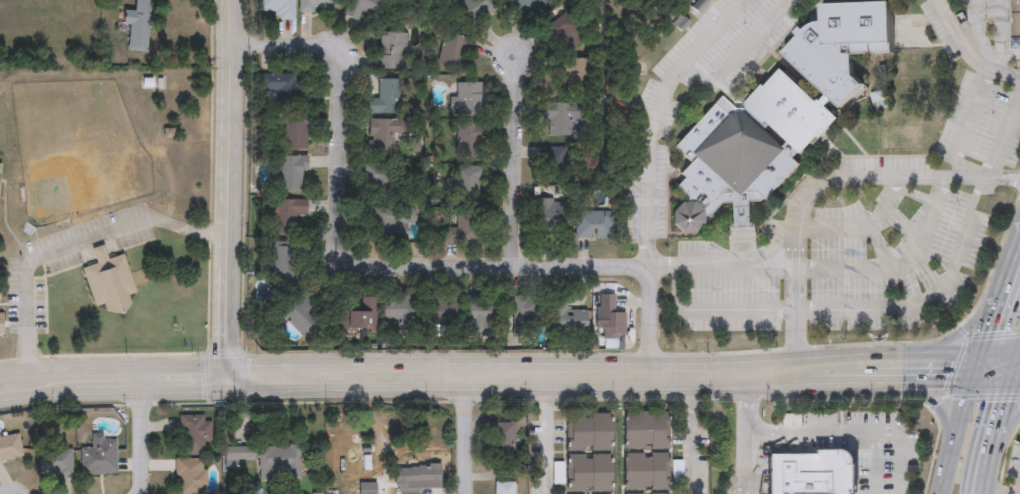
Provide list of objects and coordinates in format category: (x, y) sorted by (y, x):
building: (316, 6)
building: (524, 6)
building: (366, 8)
building: (278, 9)
building: (476, 10)
building: (1015, 26)
building: (137, 27)
building: (566, 32)
building: (391, 52)
building: (455, 52)
road: (963, 54)
road: (736, 57)
building: (573, 76)
building: (152, 85)
parking lot: (978, 85)
building: (279, 90)
building: (385, 99)
building: (469, 101)
building: (560, 116)
road: (654, 120)
building: (775, 120)
road: (965, 123)
parking lot: (653, 131)
building: (295, 133)
building: (382, 136)
park: (899, 139)
road: (1002, 139)
building: (468, 141)
park: (76, 154)
road: (517, 157)
building: (553, 166)
building: (291, 173)
road: (874, 181)
building: (383, 183)
building: (467, 185)
road: (229, 196)
building: (287, 216)
building: (554, 216)
building: (593, 222)
road: (857, 225)
building: (386, 226)
building: (464, 230)
road: (74, 244)
road: (395, 252)
parking lot: (844, 255)
road: (889, 261)
building: (282, 262)
road: (763, 265)
road: (1011, 272)
building: (110, 283)
road: (927, 299)
road: (714, 309)
building: (445, 312)
building: (400, 313)
building: (479, 314)
building: (300, 315)
building: (523, 317)
building: (362, 318)
building: (565, 319)
building: (610, 320)
building: (1, 325)
road: (991, 327)
road: (963, 338)
traffic signals: (980, 355)
road: (184, 361)
traffic signals: (222, 361)
road: (73, 362)
road: (621, 363)
road: (975, 371)
road: (1017, 373)
road: (694, 374)
road: (914, 376)
road: (835, 379)
traffic signals: (973, 379)
road: (994, 379)
traffic signals: (1015, 380)
road: (1017, 380)
road: (519, 388)
traffic signals: (224, 392)
road: (111, 395)
road: (934, 402)
road: (1001, 420)
road: (143, 427)
road: (547, 427)
road: (466, 428)
road: (808, 430)
building: (588, 431)
building: (646, 431)
building: (193, 433)
road: (1003, 435)
road: (743, 438)
road: (694, 439)
building: (500, 440)
road: (953, 440)
building: (10, 446)
road: (896, 452)
building: (99, 455)
building: (233, 455)
building: (279, 458)
building: (56, 461)
road: (874, 462)
building: (588, 473)
building: (645, 473)
building: (814, 473)
building: (416, 475)
building: (190, 476)
road: (983, 476)
building: (501, 487)
building: (367, 488)
road: (997, 492)

